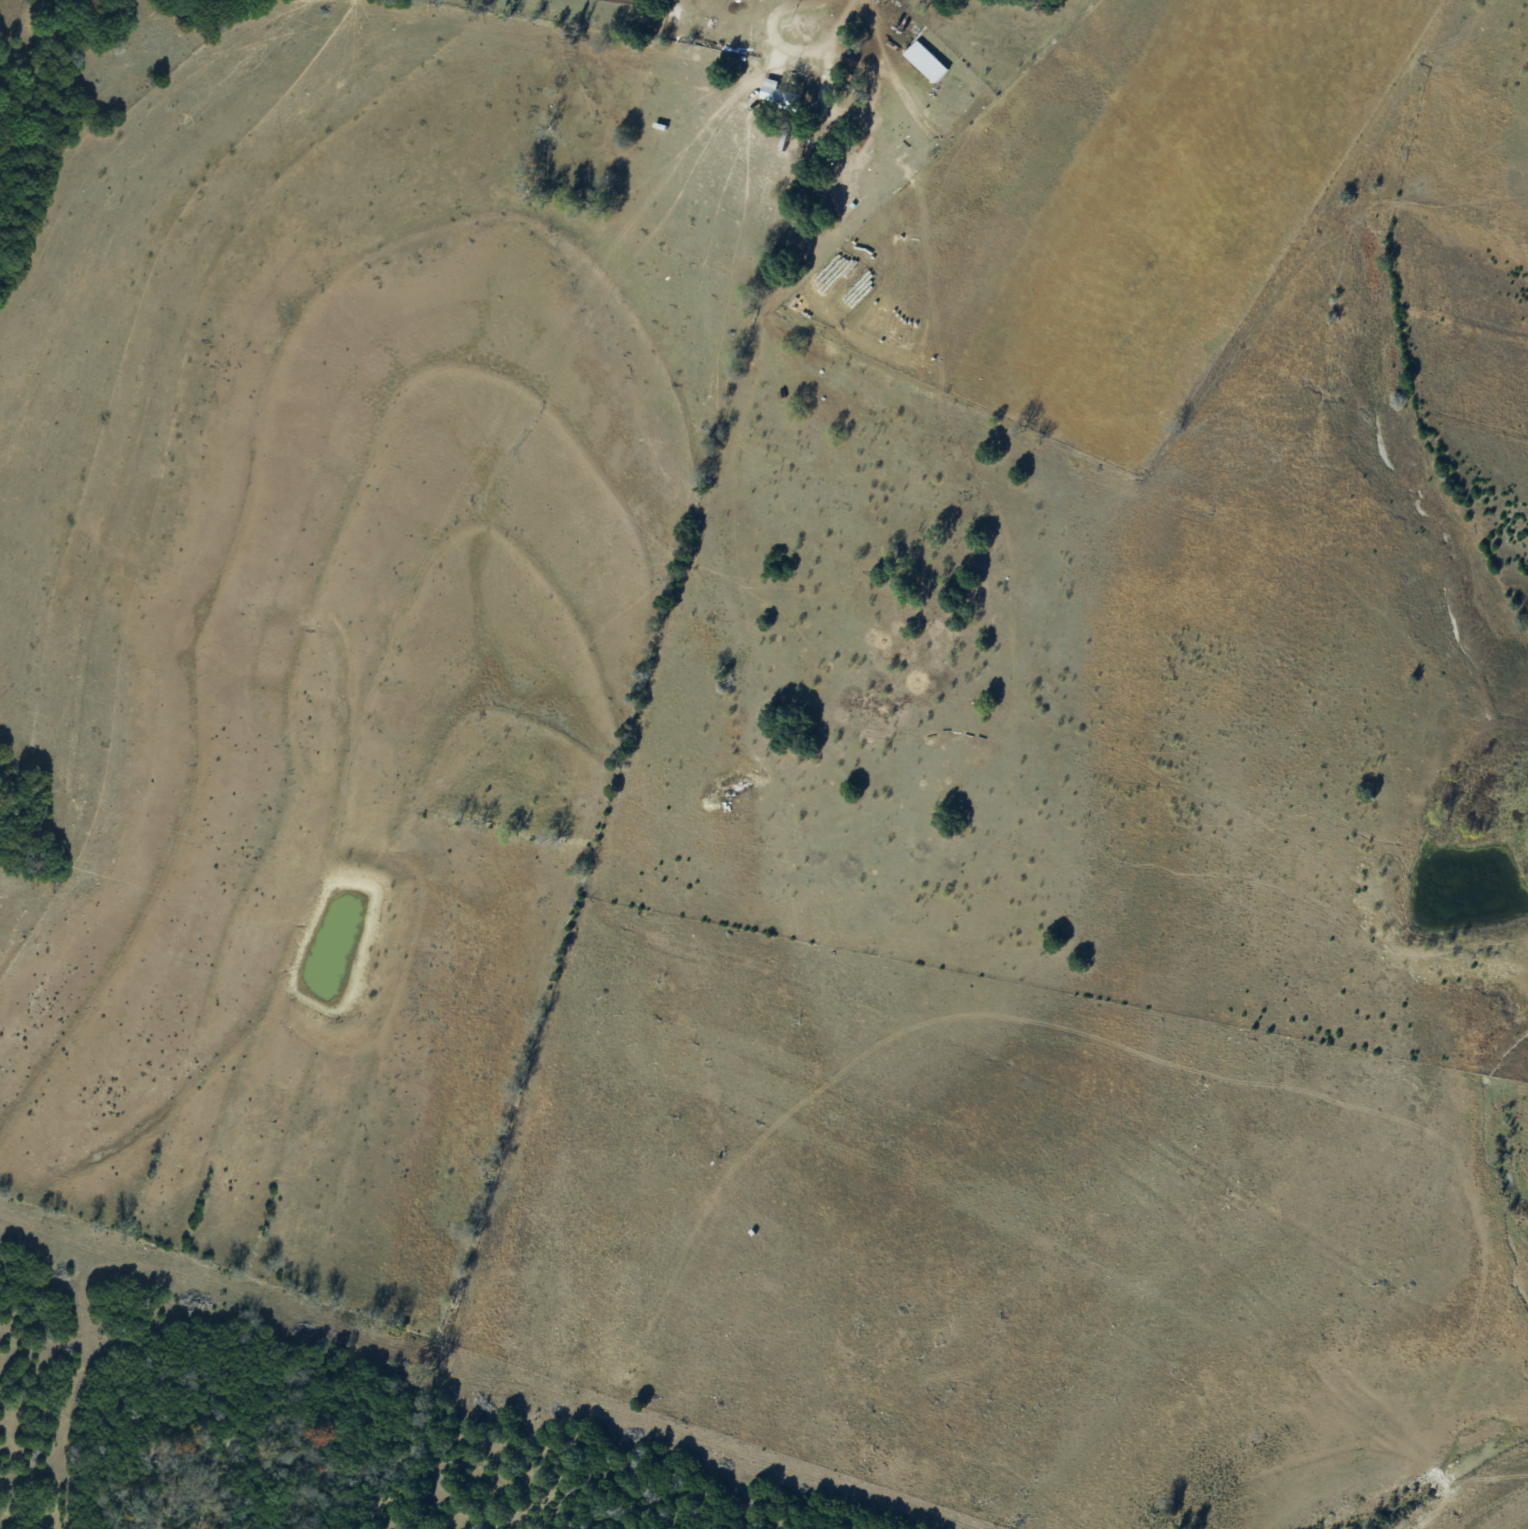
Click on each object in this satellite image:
building: (926, 61)
building: (787, 99)

